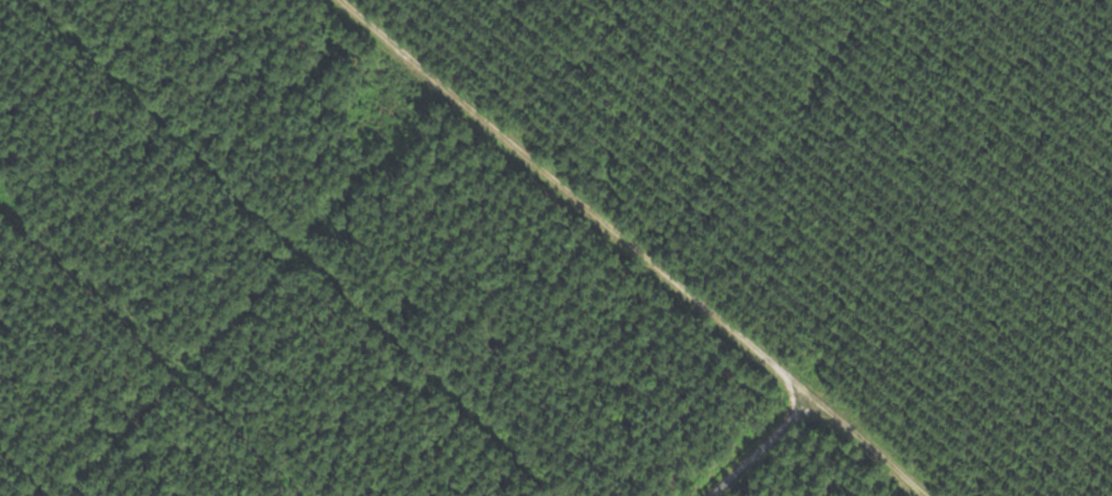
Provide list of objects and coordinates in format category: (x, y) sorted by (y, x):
road: (687, 241)
road: (749, 425)

